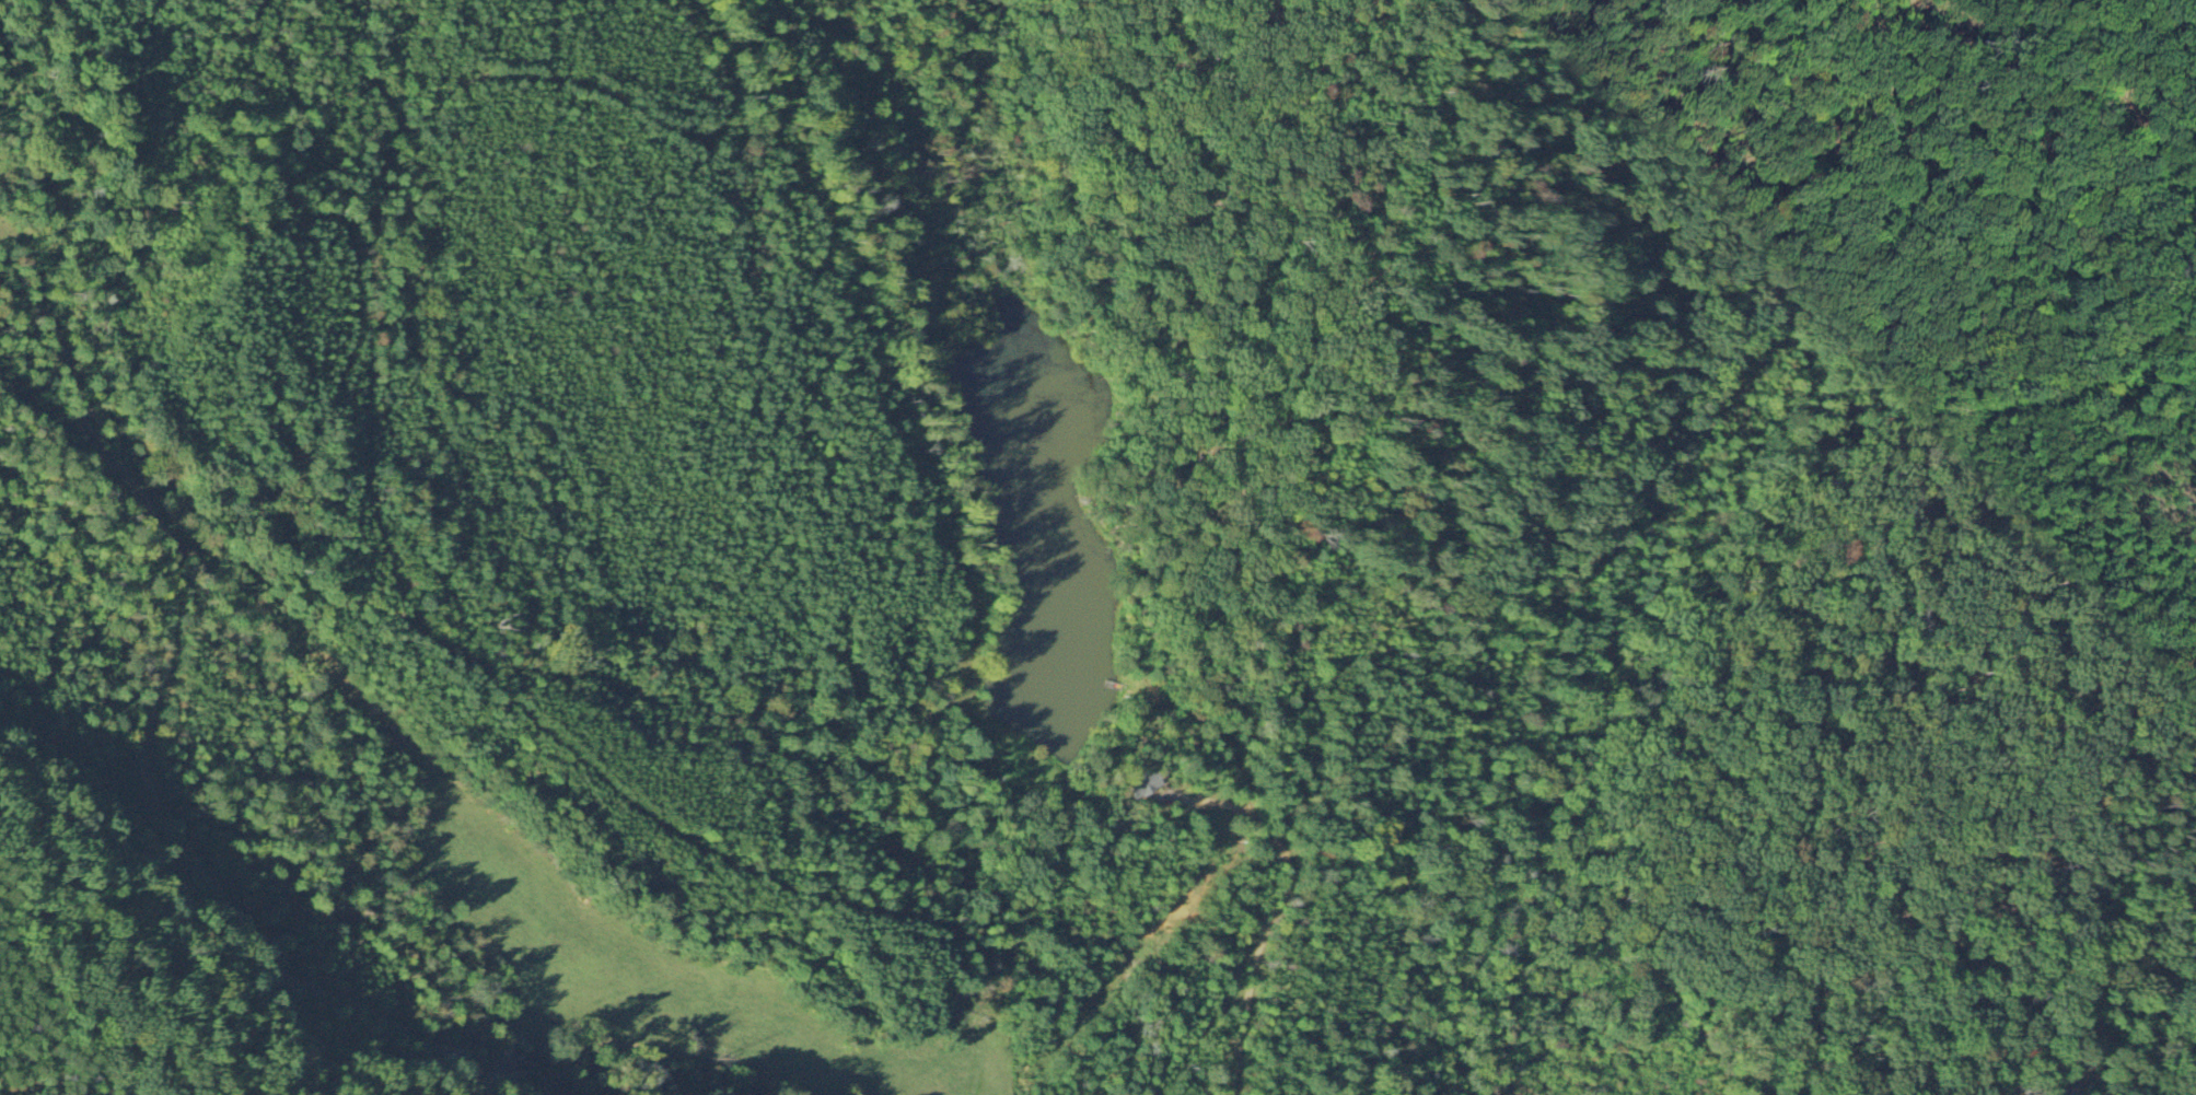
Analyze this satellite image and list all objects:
road: (813, 503)
road: (123, 768)
road: (1286, 924)

